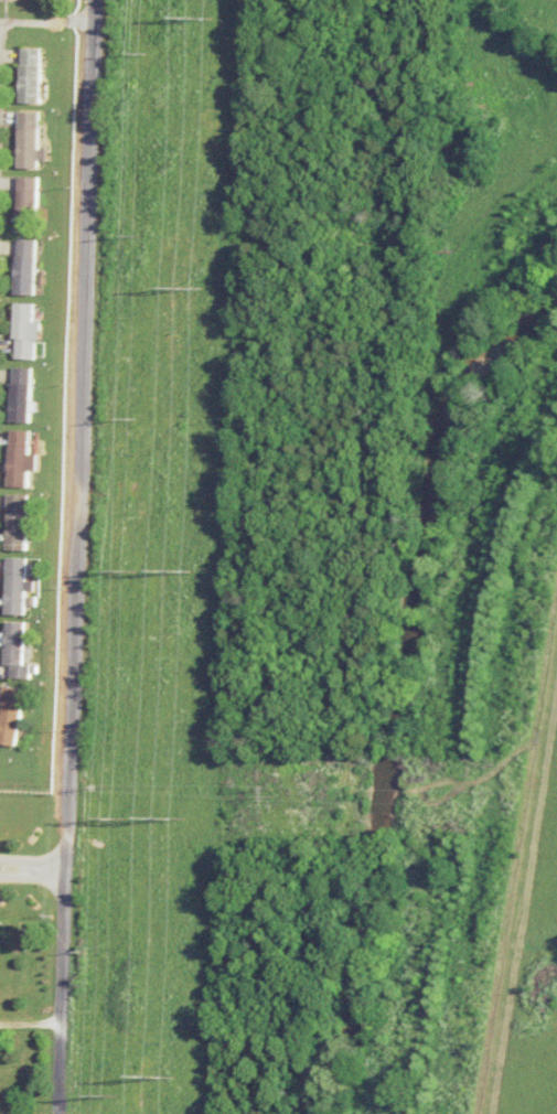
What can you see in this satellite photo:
power tower: (197, 20)
road: (47, 22)
building: (31, 75)
building: (30, 140)
building: (26, 204)
building: (25, 267)
power tower: (186, 290)
building: (25, 331)
building: (22, 395)
building: (21, 458)
building: (18, 522)
road: (79, 557)
power tower: (176, 568)
power tower: (125, 569)
building: (17, 586)
building: (15, 650)
river: (403, 686)
building: (10, 715)
power tower: (167, 815)
power tower: (115, 817)
road: (35, 871)
power tower: (160, 1076)
power tower: (108, 1093)

